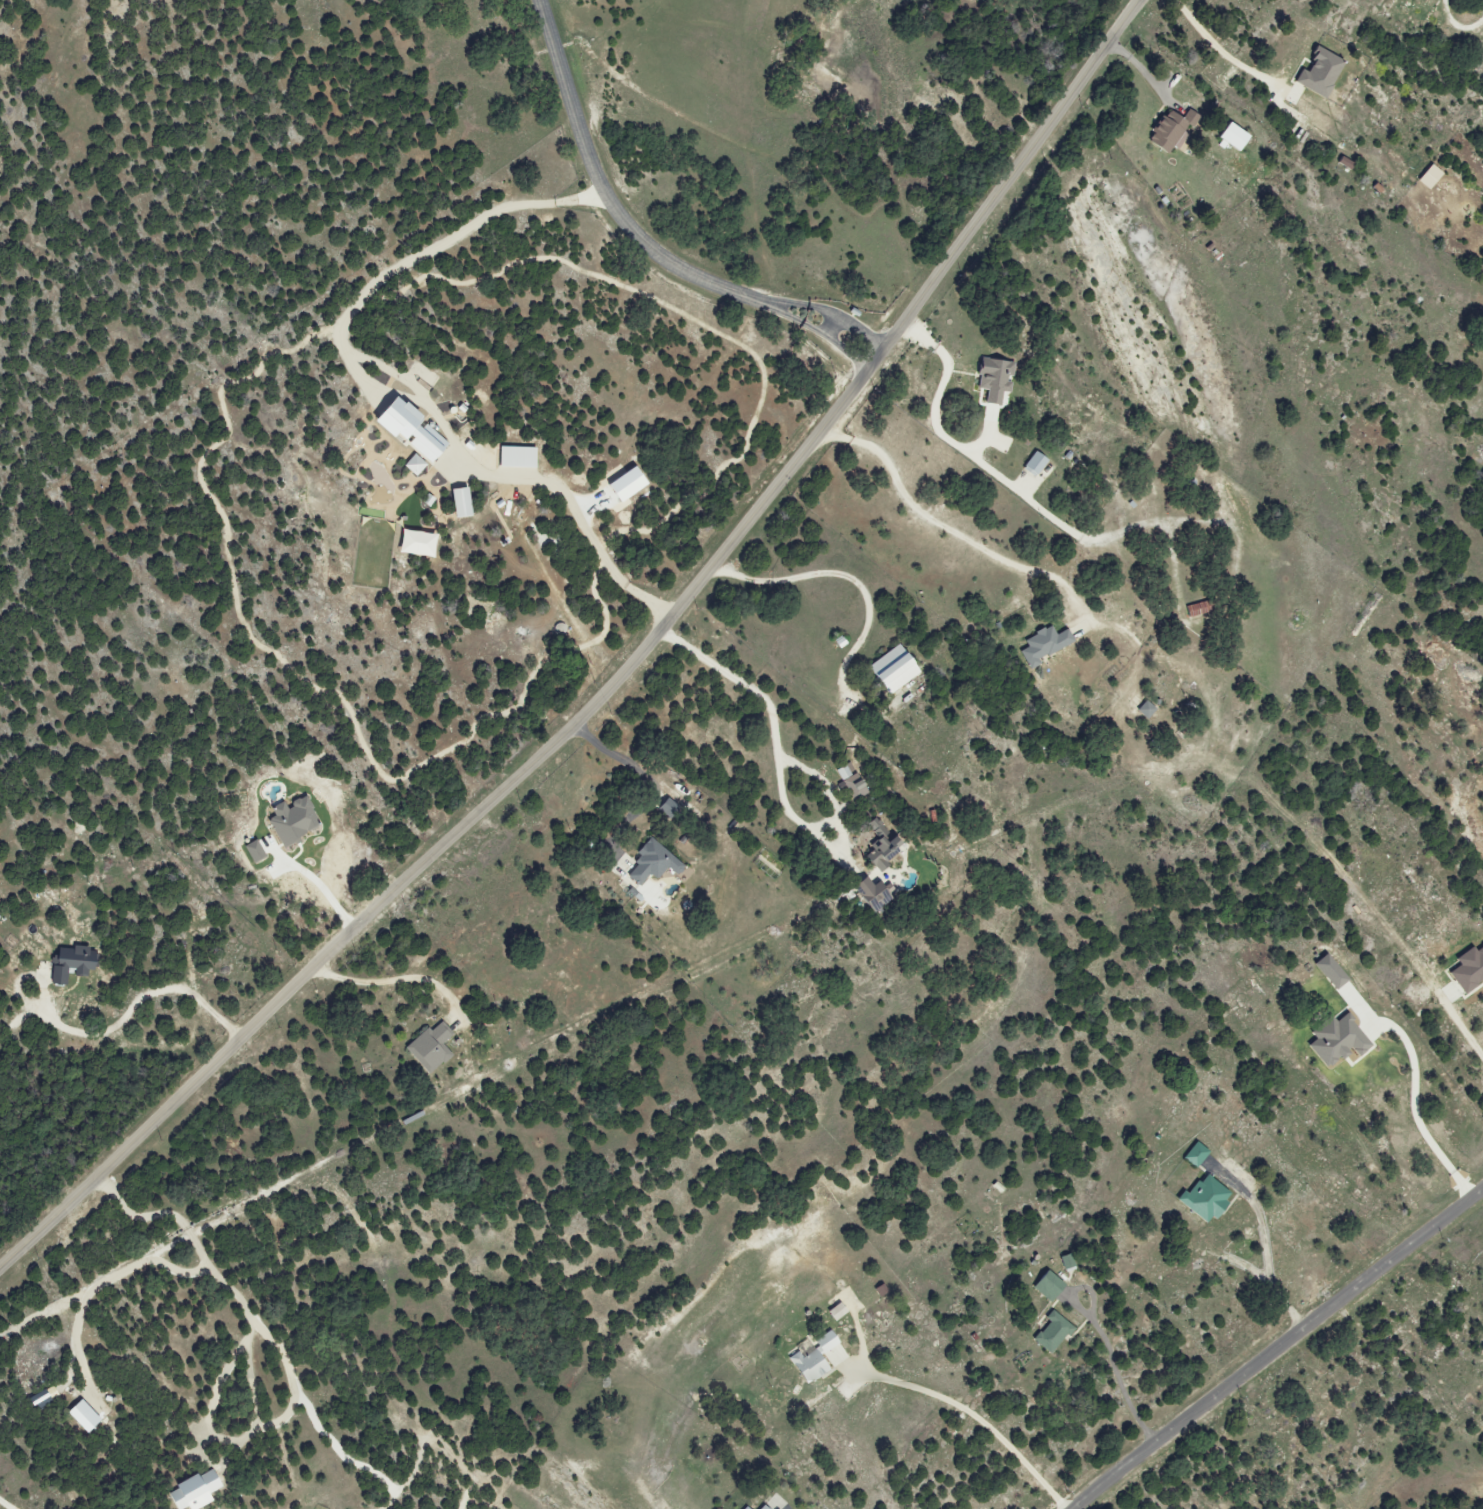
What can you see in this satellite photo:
road: (1219, 50)
road: (1140, 72)
building: (1317, 73)
building: (1168, 130)
building: (1229, 138)
building: (1343, 163)
building: (1426, 177)
road: (1007, 181)
road: (640, 242)
building: (992, 379)
building: (405, 429)
building: (515, 457)
building: (1032, 464)
building: (412, 465)
building: (456, 503)
road: (947, 529)
building: (413, 544)
building: (1196, 609)
building: (1041, 645)
building: (888, 671)
road: (757, 694)
building: (1143, 710)
road: (630, 762)
building: (850, 781)
building: (666, 806)
road: (458, 833)
building: (878, 844)
building: (650, 863)
road: (326, 888)
building: (868, 896)
building: (75, 963)
building: (1467, 968)
building: (1326, 971)
road: (398, 978)
road: (120, 1019)
building: (1333, 1039)
building: (432, 1048)
road: (1416, 1101)
building: (1193, 1154)
building: (1202, 1198)
road: (1267, 1253)
building: (1065, 1262)
building: (1045, 1284)
road: (98, 1285)
road: (227, 1289)
building: (1050, 1332)
road: (1278, 1347)
building: (810, 1358)
road: (1113, 1368)
building: (43, 1400)
road: (978, 1421)
building: (197, 1492)
building: (761, 1507)
building: (745, 1508)

